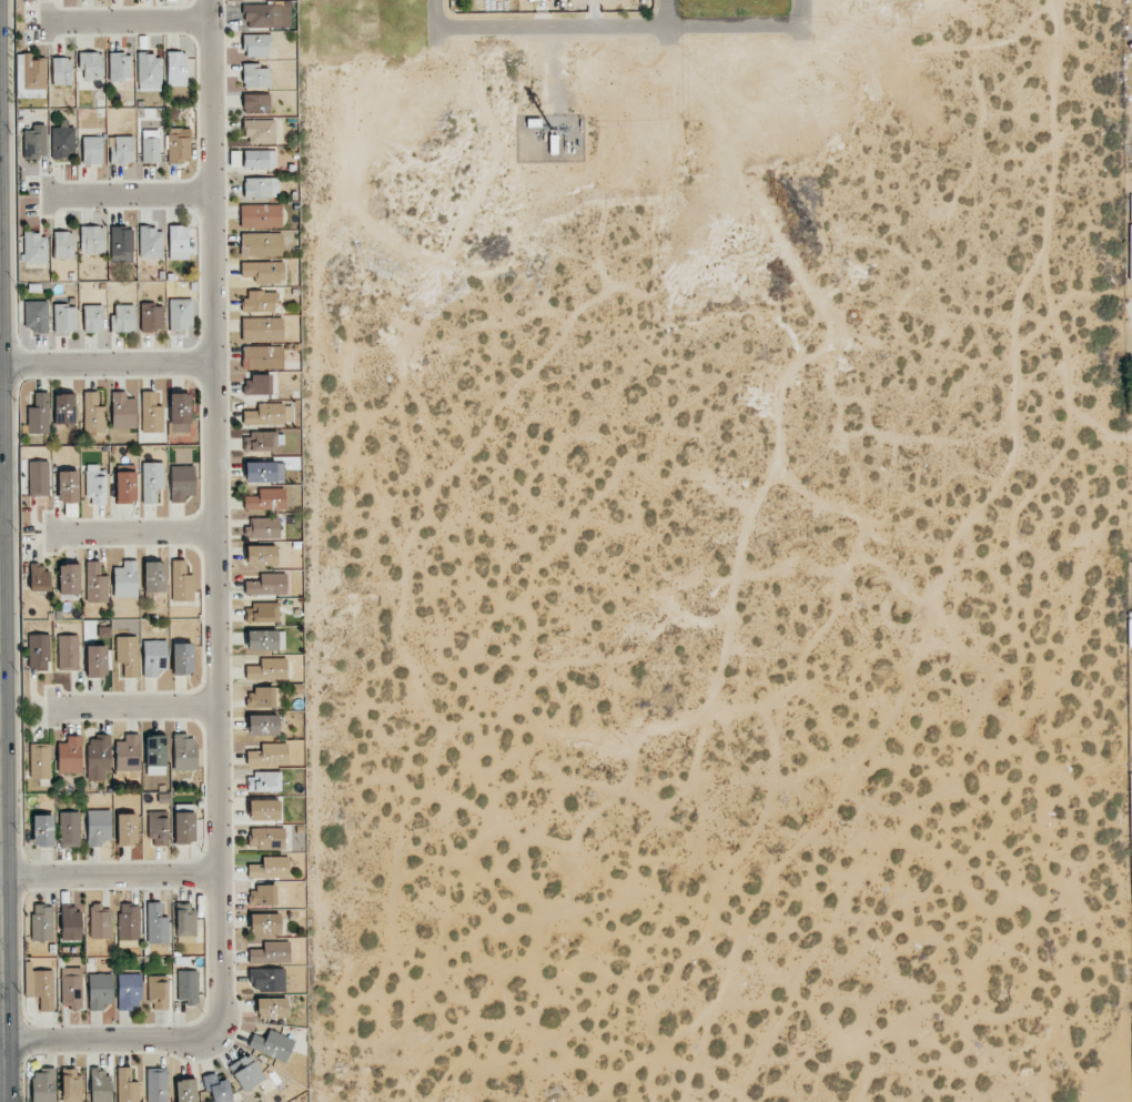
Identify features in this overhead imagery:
road: (665, 12)
building: (263, 16)
road: (123, 21)
park: (542, 24)
building: (256, 46)
building: (91, 65)
building: (120, 67)
building: (176, 69)
building: (61, 71)
building: (149, 72)
building: (29, 74)
building: (255, 75)
building: (256, 103)
building: (260, 131)
building: (62, 141)
building: (33, 142)
building: (178, 145)
building: (150, 146)
building: (91, 150)
building: (121, 150)
building: (260, 159)
building: (261, 188)
road: (125, 196)
building: (261, 216)
building: (91, 240)
building: (178, 242)
building: (150, 243)
building: (121, 244)
building: (261, 244)
building: (62, 245)
building: (34, 247)
building: (1130, 251)
building: (263, 272)
building: (260, 302)
building: (180, 313)
building: (36, 315)
building: (64, 317)
building: (151, 317)
building: (93, 319)
building: (123, 319)
building: (262, 328)
building: (262, 357)
road: (105, 361)
building: (257, 384)
building: (63, 408)
building: (122, 411)
building: (151, 412)
building: (92, 413)
building: (179, 413)
building: (39, 414)
building: (269, 414)
building: (260, 442)
building: (264, 472)
building: (38, 478)
building: (151, 482)
building: (181, 483)
building: (95, 485)
building: (68, 486)
building: (125, 487)
building: (265, 499)
building: (262, 528)
road: (129, 530)
building: (261, 555)
building: (153, 577)
building: (39, 578)
building: (69, 579)
building: (125, 579)
building: (181, 582)
building: (95, 583)
building: (266, 585)
building: (262, 613)
road: (213, 621)
building: (104, 631)
building: (265, 640)
building: (38, 651)
building: (68, 653)
building: (128, 655)
building: (154, 657)
building: (182, 658)
building: (95, 660)
building: (267, 669)
building: (261, 697)
road: (132, 706)
building: (263, 725)
building: (184, 751)
building: (128, 754)
building: (69, 755)
building: (155, 755)
building: (267, 755)
building: (98, 757)
building: (40, 760)
building: (263, 781)
building: (264, 810)
building: (98, 827)
building: (158, 828)
building: (184, 828)
building: (69, 829)
building: (127, 829)
building: (42, 830)
building: (266, 838)
building: (270, 868)
road: (108, 878)
building: (262, 896)
building: (184, 920)
building: (100, 921)
building: (42, 922)
building: (71, 922)
building: (264, 923)
building: (156, 924)
building: (128, 926)
building: (270, 953)
building: (266, 979)
building: (40, 987)
building: (186, 987)
building: (71, 988)
building: (100, 990)
building: (129, 991)
building: (158, 992)
building: (271, 1008)
building: (272, 1045)
road: (0, 1071)
building: (246, 1072)
building: (100, 1084)
building: (156, 1084)
building: (43, 1085)
building: (71, 1085)
building: (127, 1085)
building: (218, 1088)
building: (185, 1090)

